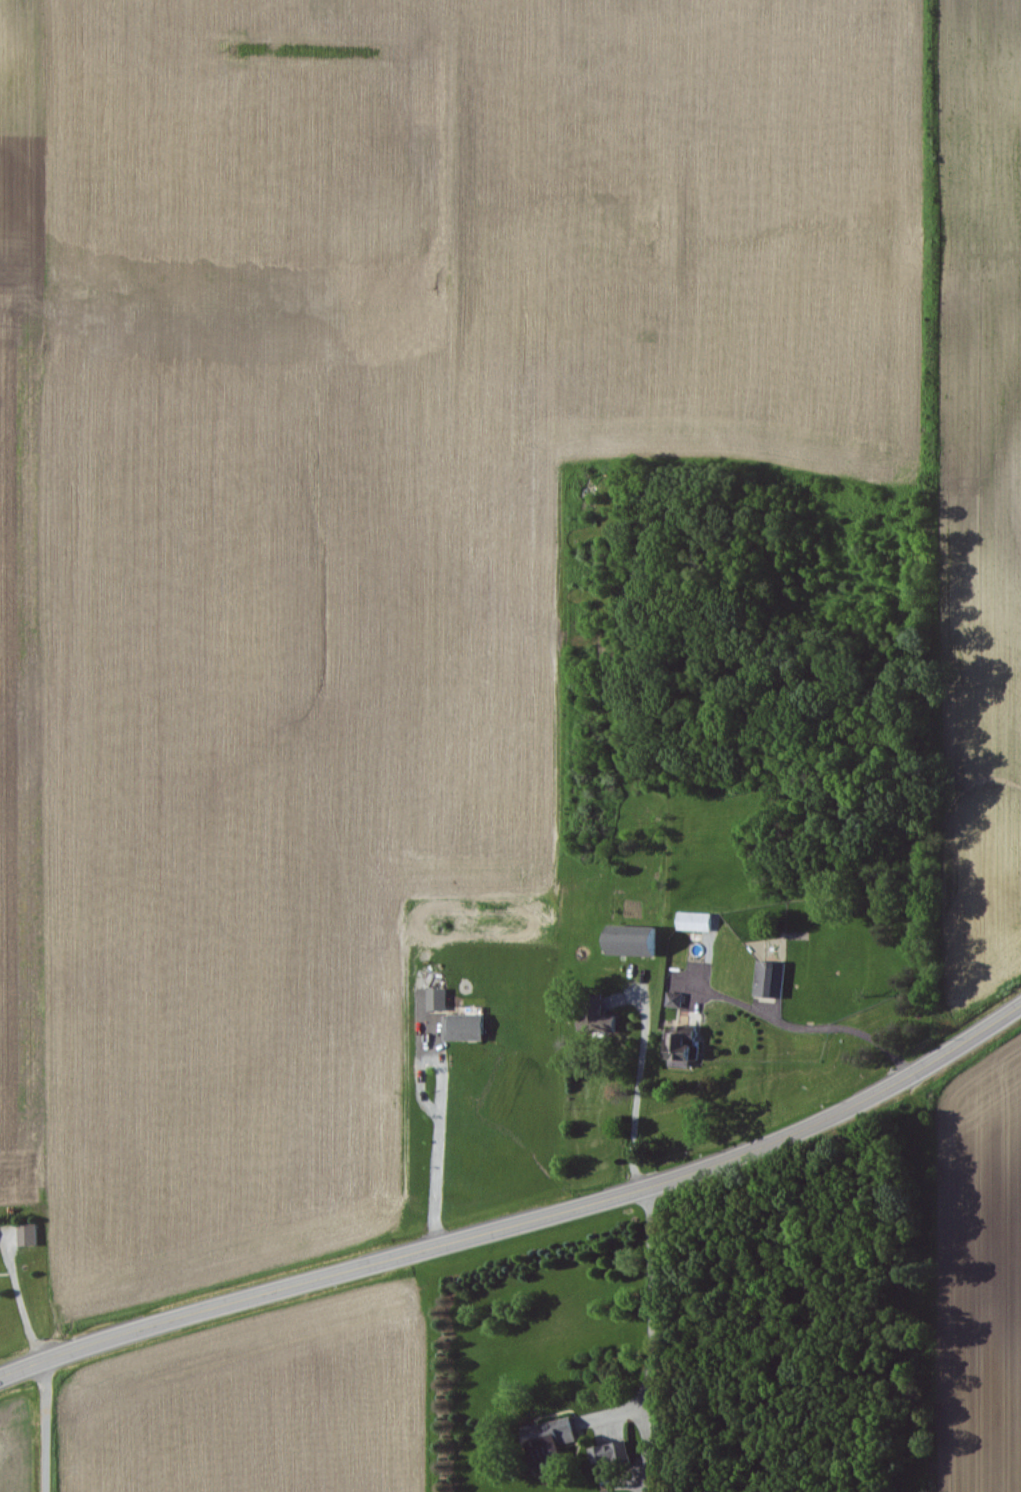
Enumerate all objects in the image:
building: (699, 923)
building: (638, 942)
building: (774, 980)
building: (442, 1001)
building: (679, 1001)
building: (469, 1029)
road: (800, 1029)
road: (640, 1082)
road: (450, 1134)
road: (524, 1208)
building: (32, 1236)
road: (18, 1297)
road: (651, 1334)
road: (45, 1421)
building: (553, 1442)
building: (615, 1457)

